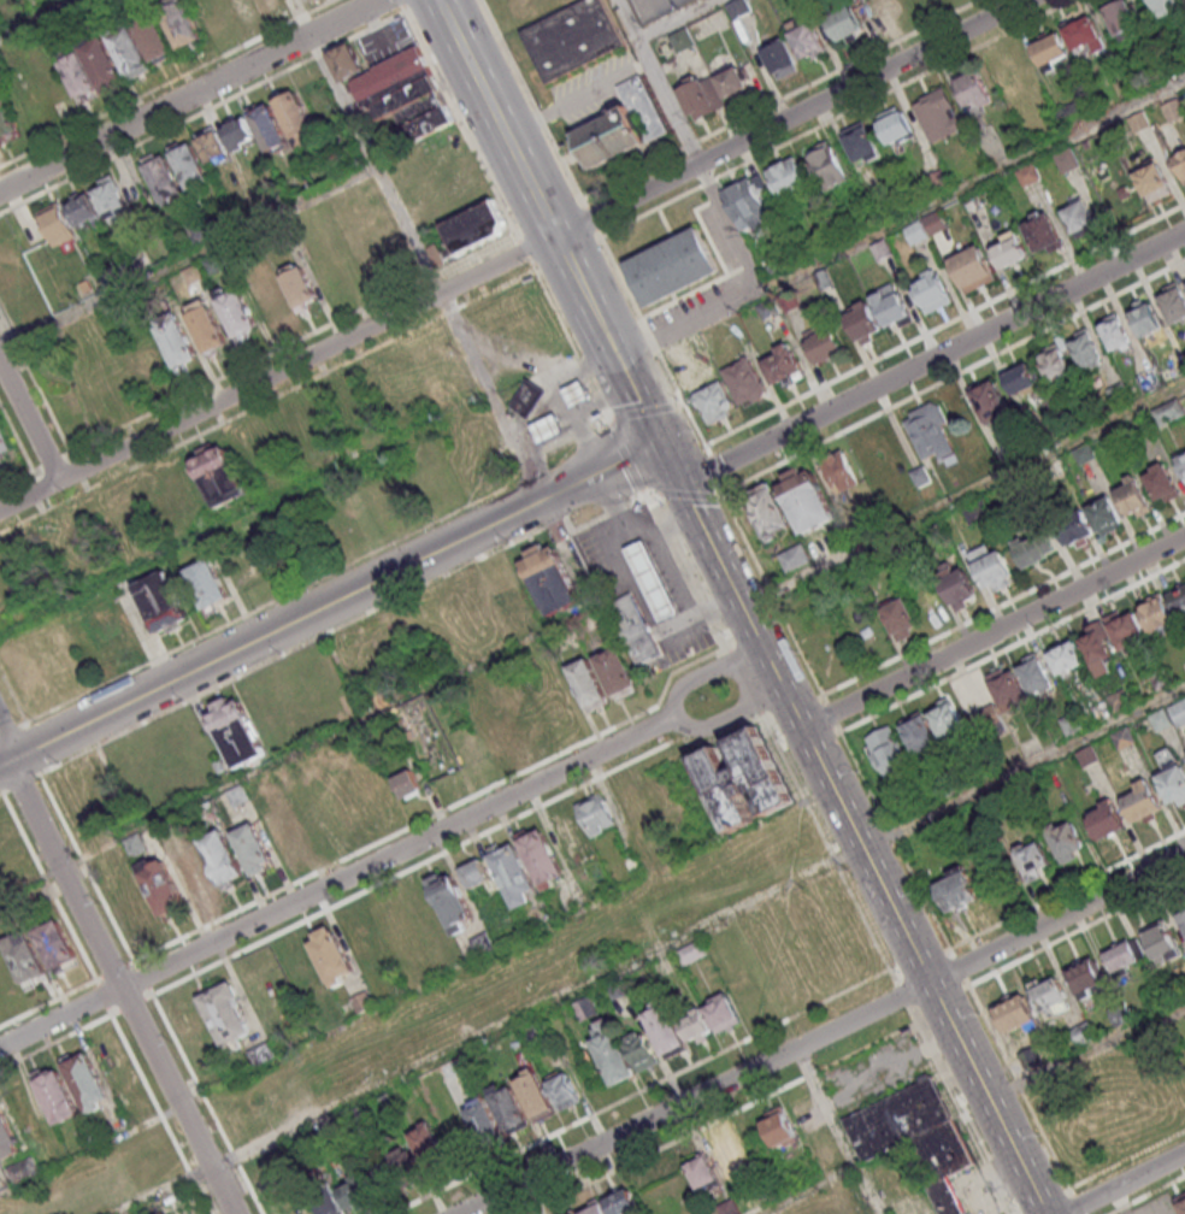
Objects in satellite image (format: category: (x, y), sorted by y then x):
building: (918, 2)
building: (264, 5)
building: (1165, 6)
parking lot: (653, 7)
building: (738, 8)
building: (886, 8)
road: (34, 17)
building: (1120, 17)
road: (674, 19)
building: (844, 23)
building: (179, 24)
building: (1083, 34)
building: (153, 36)
building: (571, 37)
building: (680, 39)
building: (807, 39)
building: (129, 51)
building: (1050, 51)
building: (779, 58)
building: (101, 64)
building: (76, 73)
building: (733, 81)
road: (658, 82)
road: (167, 83)
road: (334, 83)
building: (395, 89)
building: (974, 90)
road: (189, 95)
building: (696, 95)
building: (1172, 110)
road: (201, 111)
building: (937, 114)
building: (295, 116)
building: (6, 119)
road: (459, 119)
building: (1136, 123)
building: (623, 124)
building: (895, 126)
building: (269, 128)
building: (238, 131)
building: (860, 143)
building: (212, 145)
road: (515, 152)
building: (1065, 158)
building: (1180, 160)
building: (826, 164)
building: (189, 165)
building: (1026, 173)
building: (164, 177)
building: (788, 179)
road: (978, 179)
building: (1155, 179)
building: (108, 195)
building: (748, 199)
building: (83, 208)
building: (1078, 216)
building: (932, 222)
building: (57, 223)
building: (474, 225)
building: (915, 231)
building: (1042, 231)
building: (1009, 248)
building: (880, 249)
road: (525, 252)
road: (512, 257)
road: (188, 259)
building: (672, 265)
building: (972, 269)
building: (299, 287)
building: (931, 290)
road: (751, 293)
building: (266, 297)
building: (1173, 301)
building: (890, 305)
building: (767, 307)
building: (235, 311)
building: (1144, 318)
building: (861, 322)
building: (205, 325)
road: (460, 331)
building: (1114, 331)
building: (177, 342)
road: (568, 342)
road: (653, 344)
building: (823, 346)
building: (1086, 348)
road: (932, 358)
building: (1055, 363)
building: (782, 365)
road: (623, 372)
road: (954, 377)
building: (1024, 377)
building: (743, 378)
building: (576, 391)
building: (527, 397)
building: (713, 400)
road: (43, 402)
building: (991, 402)
building: (1167, 411)
road: (645, 412)
road: (30, 419)
building: (548, 428)
building: (930, 432)
building: (5, 440)
traffic signals: (656, 440)
building: (1083, 453)
road: (24, 454)
road: (626, 456)
building: (1181, 460)
road: (601, 467)
road: (713, 470)
building: (839, 470)
building: (919, 475)
building: (218, 477)
building: (1162, 482)
road: (683, 494)
road: (962, 496)
building: (1132, 496)
building: (806, 499)
building: (767, 511)
building: (1103, 513)
building: (1075, 528)
road: (177, 542)
building: (1032, 548)
building: (795, 556)
building: (991, 566)
road: (686, 571)
building: (549, 578)
road: (319, 579)
building: (652, 579)
building: (205, 582)
parking lot: (645, 583)
building: (955, 584)
road: (770, 590)
building: (1178, 597)
building: (160, 600)
building: (1155, 613)
building: (898, 617)
road: (272, 629)
building: (1124, 629)
building: (635, 630)
road: (992, 630)
building: (1095, 641)
building: (1065, 655)
building: (618, 672)
road: (702, 673)
building: (1034, 673)
road: (743, 680)
building: (588, 683)
building: (1119, 699)
building: (1001, 701)
building: (1178, 711)
building: (524, 712)
road: (832, 714)
road: (724, 718)
building: (947, 718)
building: (1160, 719)
building: (1073, 723)
building: (489, 724)
building: (234, 730)
road: (8, 731)
road: (330, 732)
building: (918, 732)
road: (8, 736)
building: (1125, 737)
building: (890, 755)
building: (1086, 755)
road: (1022, 767)
building: (1172, 776)
building: (743, 778)
building: (406, 783)
building: (237, 794)
building: (1142, 800)
building: (311, 813)
building: (595, 813)
building: (1106, 819)
building: (279, 826)
road: (850, 826)
building: (1065, 839)
building: (132, 843)
road: (896, 843)
road: (827, 845)
building: (252, 847)
building: (220, 855)
building: (538, 856)
building: (1030, 860)
building: (474, 872)
building: (512, 872)
building: (196, 876)
road: (331, 884)
building: (163, 888)
building: (957, 890)
building: (124, 896)
building: (449, 901)
building: (1180, 914)
building: (424, 918)
building: (394, 931)
building: (1162, 938)
building: (57, 945)
building: (691, 951)
building: (330, 953)
building: (1124, 955)
building: (25, 957)
road: (959, 970)
building: (301, 971)
building: (1084, 976)
road: (119, 988)
road: (415, 990)
road: (901, 994)
building: (1048, 994)
building: (583, 1008)
building: (1014, 1010)
building: (224, 1012)
building: (720, 1012)
building: (1120, 1013)
road: (101, 1015)
building: (334, 1015)
building: (1184, 1016)
building: (695, 1024)
building: (664, 1026)
road: (490, 1031)
building: (1081, 1033)
road: (823, 1035)
building: (641, 1049)
building: (260, 1051)
building: (611, 1053)
road: (1086, 1053)
building: (1039, 1054)
building: (592, 1069)
parking lot: (876, 1073)
building: (86, 1080)
road: (1020, 1086)
building: (562, 1089)
building: (533, 1094)
building: (57, 1095)
building: (507, 1107)
road: (960, 1112)
building: (897, 1116)
building: (483, 1118)
building: (778, 1125)
road: (838, 1131)
building: (7, 1138)
building: (429, 1143)
building: (941, 1150)
building: (402, 1153)
building: (727, 1157)
building: (376, 1165)
building: (700, 1168)
building: (22, 1169)
building: (349, 1179)
road: (1125, 1183)
building: (319, 1190)
road: (807, 1190)
parking lot: (972, 1190)
building: (947, 1196)
building: (276, 1198)
building: (620, 1201)
building: (1180, 1202)
road: (1079, 1204)
parking lot: (1155, 1206)
building: (727, 1207)
building: (594, 1208)
building: (570, 1212)

